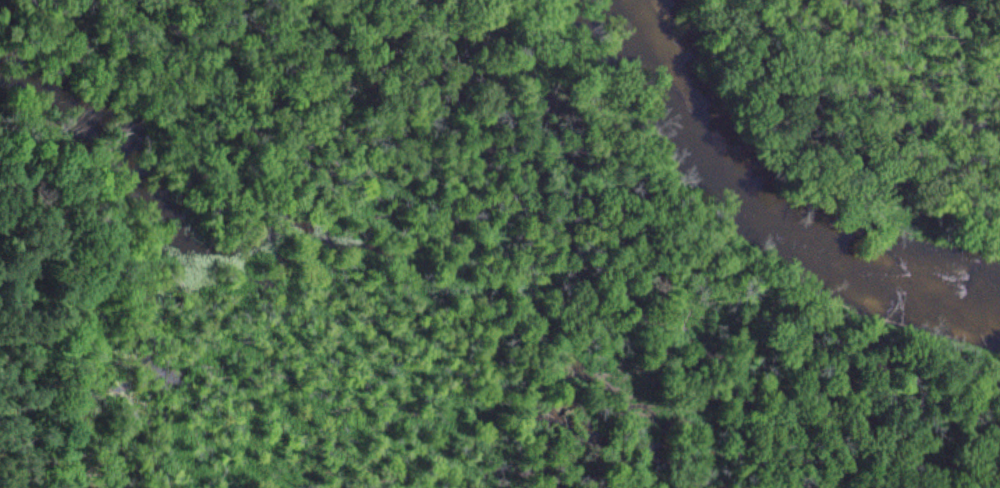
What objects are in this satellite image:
river: (775, 206)

